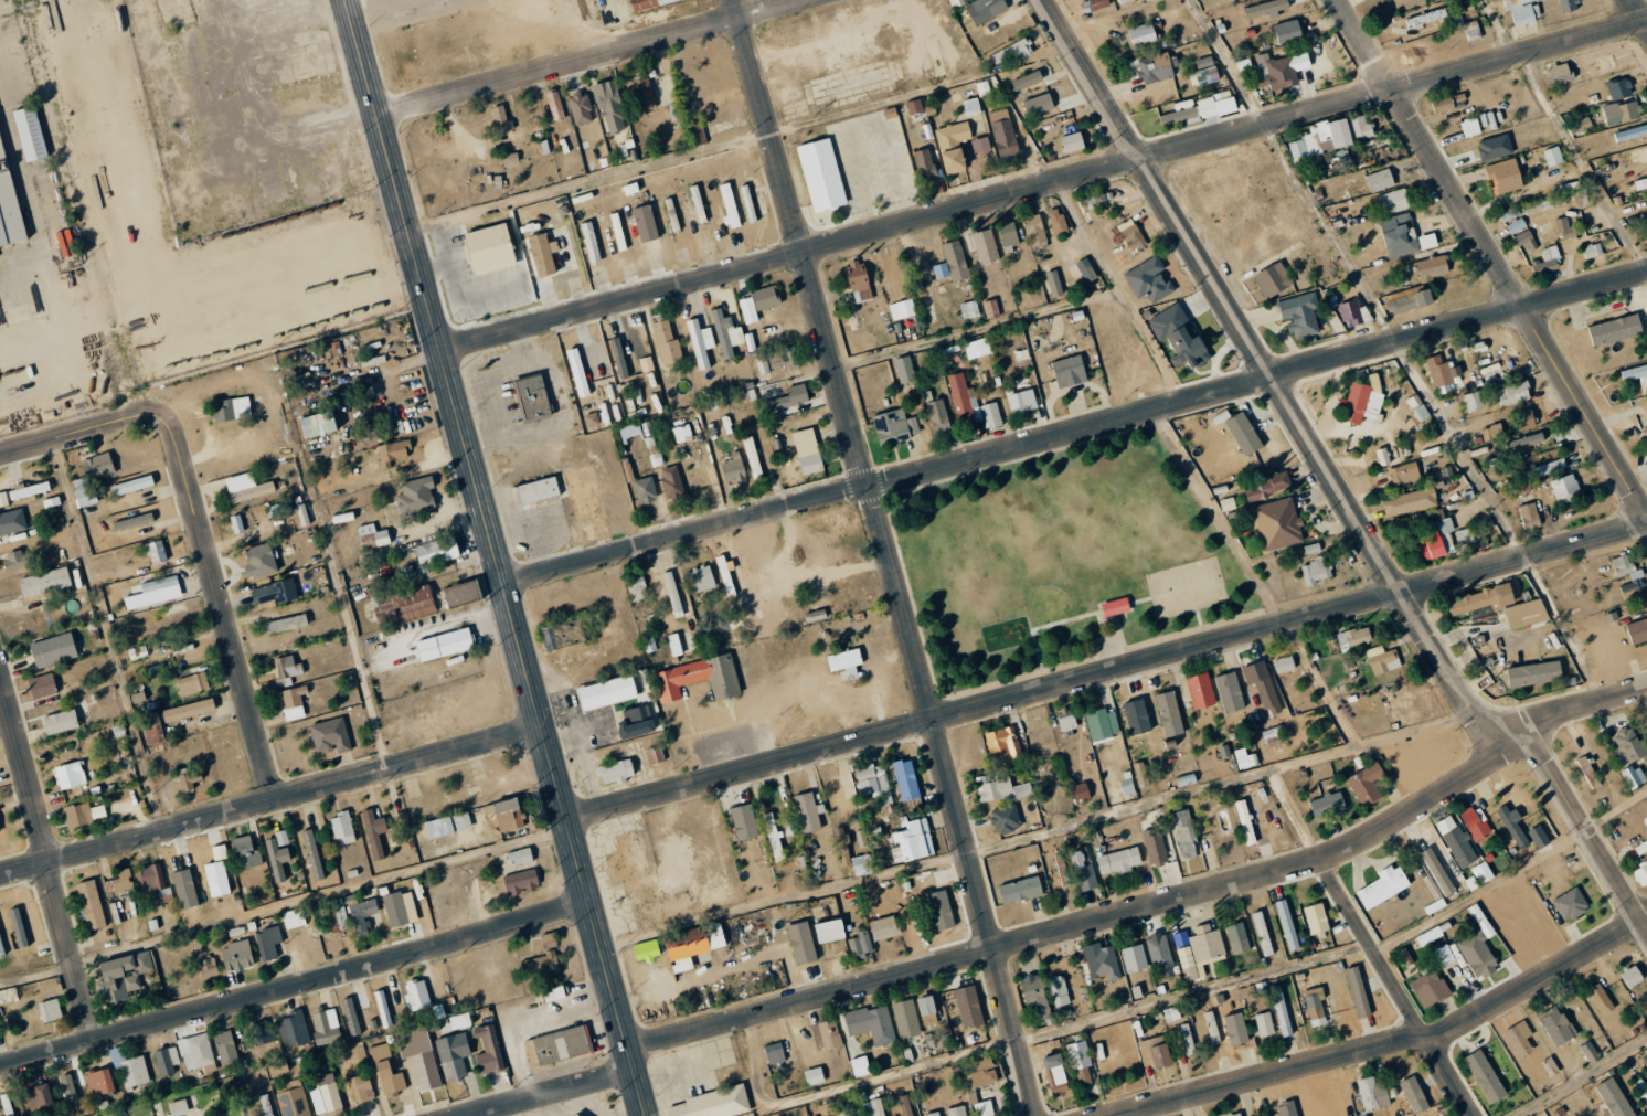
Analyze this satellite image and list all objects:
building: (1124, 1)
building: (647, 3)
building: (1096, 4)
building: (1566, 6)
building: (986, 9)
building: (1265, 9)
building: (1522, 10)
road: (1639, 11)
building: (1426, 18)
road: (1497, 26)
building: (1288, 31)
building: (1141, 34)
building: (1012, 51)
road: (594, 59)
building: (1204, 62)
building: (1244, 64)
building: (1154, 67)
building: (1282, 70)
building: (1560, 74)
building: (1048, 76)
building: (1207, 76)
building: (1027, 81)
building: (987, 86)
building: (1619, 88)
building: (642, 94)
building: (1221, 96)
building: (1446, 102)
building: (555, 104)
building: (1038, 104)
building: (610, 106)
building: (914, 106)
building: (971, 106)
building: (581, 108)
building: (1208, 110)
building: (1622, 111)
building: (1179, 116)
building: (500, 119)
building: (975, 124)
building: (1579, 124)
building: (1470, 127)
building: (30, 134)
building: (695, 134)
building: (953, 134)
building: (1003, 134)
building: (1331, 137)
building: (1072, 142)
building: (980, 145)
building: (1495, 147)
building: (1552, 156)
building: (954, 161)
building: (924, 163)
building: (821, 176)
building: (1503, 177)
building: (1380, 180)
building: (1641, 182)
road: (1044, 183)
building: (1580, 198)
building: (1393, 201)
building: (748, 203)
building: (1096, 203)
building: (1552, 203)
building: (698, 204)
building: (729, 205)
building: (8, 206)
building: (1058, 222)
building: (645, 223)
building: (1564, 228)
building: (1034, 230)
building: (1518, 230)
building: (1130, 234)
building: (618, 235)
building: (1008, 235)
building: (1402, 236)
building: (591, 242)
building: (982, 246)
building: (490, 249)
building: (1592, 252)
building: (543, 254)
road: (1492, 254)
building: (955, 261)
building: (1547, 261)
building: (1432, 268)
building: (1085, 270)
building: (1272, 279)
building: (1148, 280)
building: (858, 281)
building: (1054, 284)
building: (766, 297)
building: (1411, 301)
building: (748, 309)
building: (902, 309)
building: (969, 310)
building: (1352, 312)
building: (1299, 315)
building: (1615, 329)
building: (773, 332)
building: (726, 333)
building: (1178, 336)
building: (667, 342)
building: (700, 342)
road: (1396, 347)
building: (977, 348)
building: (618, 357)
building: (777, 360)
building: (646, 363)
building: (904, 369)
building: (1441, 370)
building: (577, 371)
building: (1069, 371)
building: (1635, 373)
road: (1272, 376)
building: (1513, 392)
building: (531, 397)
building: (784, 397)
building: (963, 400)
building: (1021, 401)
building: (1471, 401)
building: (1361, 403)
building: (1417, 407)
building: (227, 411)
building: (991, 415)
building: (938, 416)
building: (592, 418)
building: (1524, 419)
building: (318, 424)
building: (895, 427)
road: (1076, 429)
building: (1645, 431)
building: (1490, 432)
building: (682, 433)
building: (1243, 433)
road: (70, 438)
building: (1524, 440)
building: (392, 453)
building: (1382, 456)
building: (753, 458)
building: (811, 464)
building: (733, 468)
building: (1543, 469)
building: (1404, 472)
building: (91, 478)
building: (671, 481)
building: (134, 485)
building: (1266, 486)
building: (246, 487)
building: (1565, 488)
building: (29, 489)
building: (542, 490)
building: (645, 490)
building: (416, 496)
building: (3, 499)
building: (1410, 501)
building: (1228, 503)
building: (1529, 516)
building: (132, 521)
building: (12, 522)
building: (1277, 523)
road: (492, 533)
building: (1464, 535)
building: (372, 536)
building: (1437, 539)
building: (1311, 548)
building: (156, 551)
building: (437, 551)
road: (885, 557)
park: (1061, 559)
building: (261, 560)
building: (13, 561)
building: (1621, 564)
building: (1315, 570)
building: (702, 577)
building: (44, 582)
park: (1189, 586)
road: (1043, 588)
building: (1632, 588)
building: (638, 589)
building: (155, 592)
building: (274, 592)
building: (461, 593)
building: (672, 594)
road: (217, 595)
building: (729, 598)
building: (1483, 599)
building: (403, 605)
building: (1116, 606)
building: (1526, 613)
road: (1083, 615)
building: (286, 624)
building: (1637, 630)
road: (921, 631)
road: (1119, 634)
building: (556, 635)
road: (105, 636)
building: (1353, 637)
building: (445, 645)
building: (674, 645)
building: (53, 650)
building: (138, 652)
building: (1382, 659)
building: (846, 661)
building: (1284, 663)
building: (287, 669)
road: (1108, 673)
building: (1533, 673)
building: (698, 678)
building: (192, 683)
building: (42, 685)
building: (1263, 685)
building: (615, 690)
building: (1200, 690)
building: (1230, 692)
building: (294, 702)
building: (189, 710)
building: (1169, 713)
building: (1136, 716)
building: (1066, 719)
building: (60, 721)
building: (636, 722)
building: (1102, 724)
building: (152, 729)
building: (330, 735)
building: (1002, 745)
building: (1627, 746)
building: (1224, 751)
building: (655, 755)
building: (1412, 755)
building: (1245, 758)
building: (615, 772)
building: (1587, 772)
building: (1141, 773)
building: (70, 775)
building: (1634, 776)
building: (190, 779)
building: (873, 782)
building: (1127, 783)
building: (1366, 783)
building: (906, 785)
building: (1001, 788)
building: (1080, 793)
road: (272, 797)
building: (1327, 805)
building: (807, 811)
building: (82, 815)
building: (508, 815)
building: (1006, 819)
building: (744, 821)
building: (1245, 821)
building: (1475, 822)
building: (447, 825)
building: (1513, 825)
building: (342, 828)
road: (1582, 829)
building: (374, 832)
building: (1183, 835)
building: (1538, 836)
building: (773, 837)
building: (912, 841)
building: (1457, 841)
building: (1154, 846)
building: (1169, 851)
building: (220, 852)
building: (245, 852)
building: (278, 854)
building: (312, 854)
building: (522, 855)
road: (45, 861)
building: (1118, 861)
building: (861, 864)
building: (1084, 869)
building: (1437, 871)
road: (1510, 871)
building: (1481, 872)
building: (1640, 873)
building: (216, 879)
building: (520, 881)
building: (119, 882)
building: (153, 882)
building: (1383, 886)
building: (184, 889)
building: (1020, 890)
road: (783, 896)
building: (91, 904)
building: (1570, 904)
road: (286, 905)
road: (1155, 905)
building: (395, 908)
building: (879, 908)
building: (941, 910)
building: (362, 915)
building: (332, 916)
building: (1316, 917)
building: (294, 918)
building: (1287, 925)
building: (18, 927)
building: (883, 927)
building: (829, 931)
building: (1263, 933)
building: (1431, 935)
building: (1237, 937)
building: (548, 938)
building: (1522, 939)
building: (268, 943)
building: (801, 943)
building: (860, 944)
building: (692, 945)
building: (1477, 948)
building: (0, 949)
building: (646, 949)
building: (1201, 952)
building: (1160, 954)
building: (1444, 955)
building: (237, 956)
building: (1404, 957)
building: (1134, 958)
road: (1378, 959)
building: (1101, 961)
building: (541, 965)
building: (208, 967)
building: (123, 976)
building: (1632, 976)
road: (296, 984)
building: (1430, 988)
building: (1059, 990)
road: (1189, 990)
building: (1359, 991)
building: (1618, 992)
building: (554, 993)
building: (416, 995)
building: (1035, 997)
building: (1601, 999)
building: (1315, 1002)
building: (926, 1006)
building: (969, 1007)
building: (383, 1008)
building: (50, 1010)
building: (1282, 1010)
building: (1171, 1013)
building: (351, 1017)
building: (905, 1019)
building: (928, 1020)
building: (871, 1023)
building: (1264, 1023)
building: (326, 1025)
building: (1556, 1025)
building: (1212, 1028)
building: (294, 1029)
building: (1236, 1029)
building: (262, 1032)
building: (826, 1034)
building: (1519, 1038)
building: (1188, 1040)
building: (556, 1045)
building: (225, 1046)
road: (1392, 1046)
building: (488, 1050)
building: (196, 1051)
building: (1155, 1052)
building: (775, 1053)
building: (1590, 1053)
building: (453, 1054)
building: (418, 1055)
building: (116, 1057)
building: (167, 1061)
building: (1080, 1062)
building: (1645, 1062)
building: (860, 1066)
building: (134, 1072)
building: (386, 1072)
building: (982, 1072)
building: (1055, 1074)
building: (814, 1076)
building: (1485, 1076)
road: (1576, 1076)
building: (100, 1082)
road: (846, 1085)
building: (68, 1087)
building: (362, 1087)
building: (1641, 1090)
road: (545, 1092)
road: (639, 1092)
building: (327, 1094)
building: (1372, 1094)
building: (1413, 1095)
building: (38, 1097)
building: (1614, 1098)
building: (293, 1099)
building: (713, 1104)
building: (266, 1105)
building: (906, 1105)
building: (873, 1107)
building: (1645, 1107)
building: (984, 1108)
building: (1287, 1109)
building: (846, 1110)
building: (957, 1110)
building: (933, 1114)
building: (574, 1115)
building: (1236, 1115)

